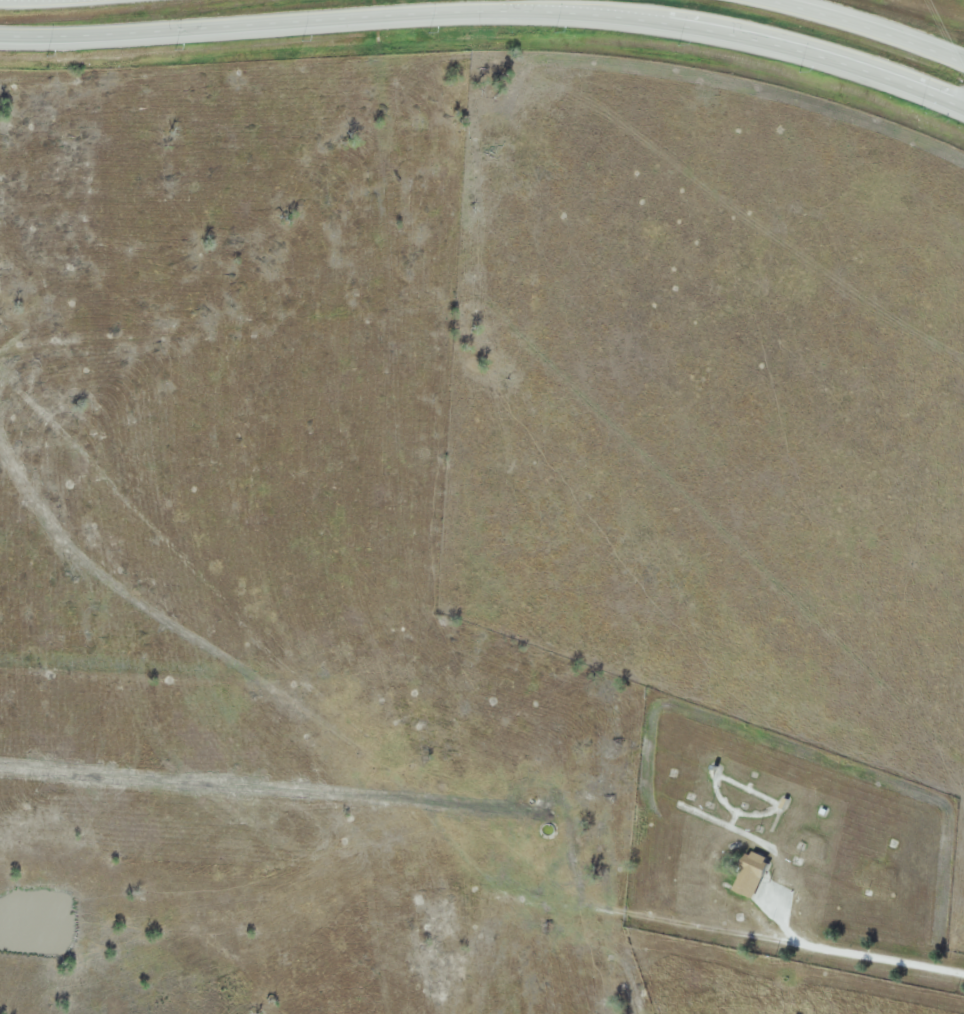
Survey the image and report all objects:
road: (488, 9)
road: (865, 28)
building: (750, 874)
road: (850, 951)

